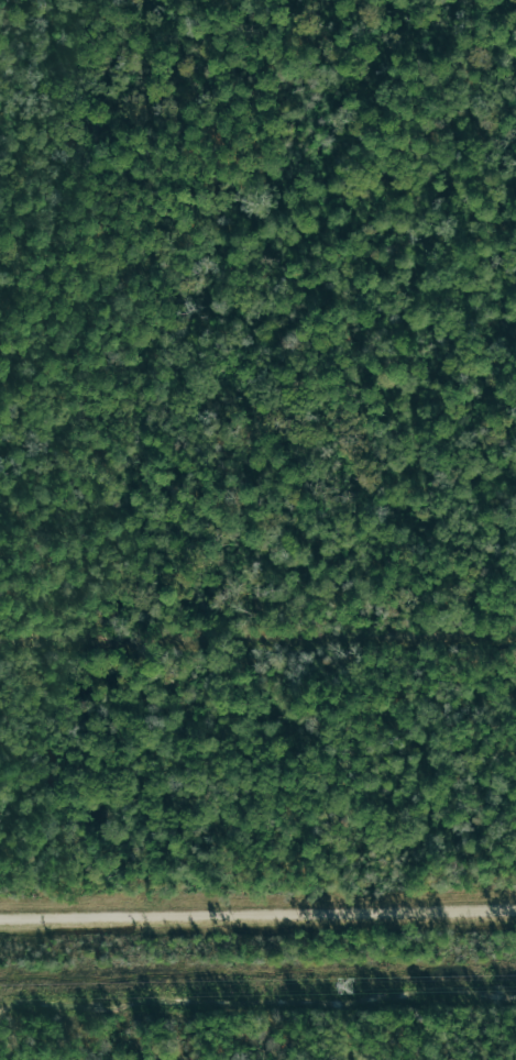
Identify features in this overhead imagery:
road: (257, 916)
power tower: (350, 986)

